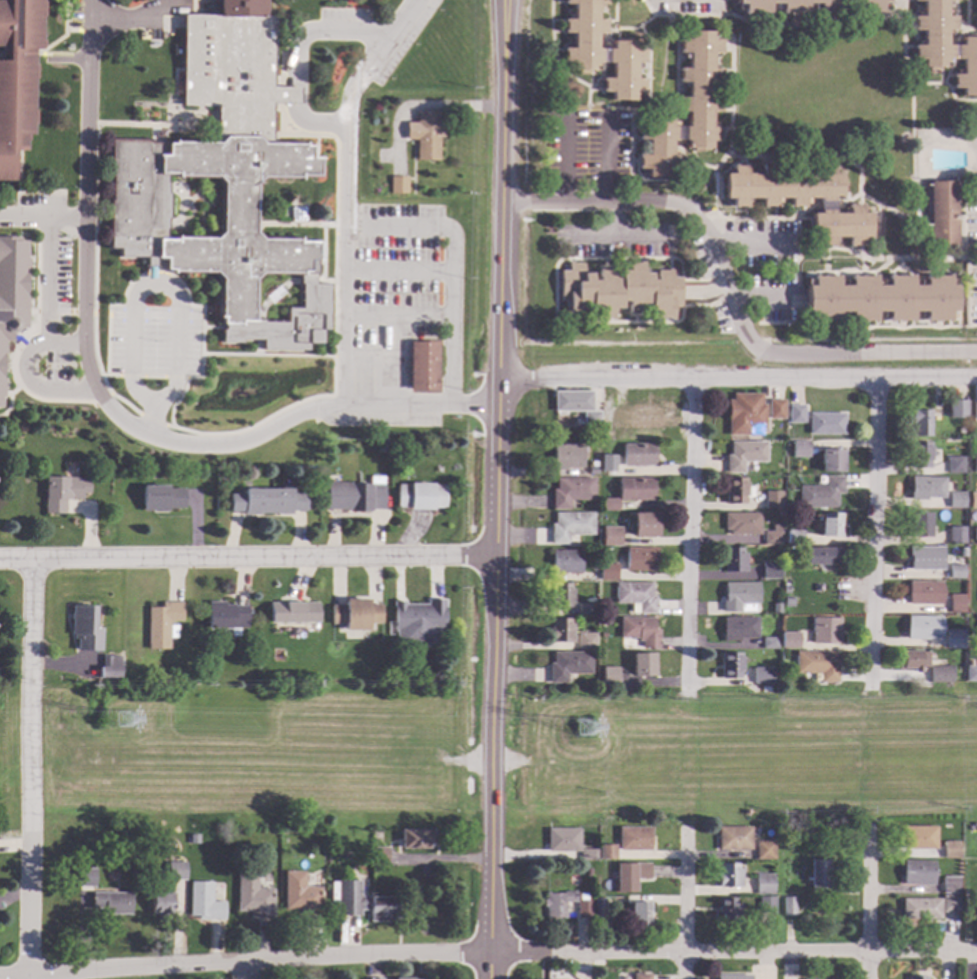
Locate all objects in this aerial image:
building: (240, 8)
building: (831, 8)
road: (149, 12)
road: (965, 15)
road: (63, 17)
road: (770, 23)
road: (961, 27)
road: (621, 28)
road: (958, 29)
road: (75, 30)
road: (315, 30)
road: (960, 31)
building: (945, 46)
building: (602, 51)
road: (40, 54)
road: (2, 57)
road: (66, 59)
road: (555, 59)
road: (676, 68)
road: (947, 71)
road: (911, 75)
road: (940, 75)
road: (949, 75)
building: (17, 77)
road: (172, 77)
road: (590, 79)
road: (731, 83)
road: (592, 84)
road: (279, 94)
road: (296, 96)
road: (421, 105)
road: (647, 107)
road: (619, 108)
building: (686, 109)
building: (235, 114)
road: (315, 123)
road: (170, 133)
building: (425, 135)
road: (315, 147)
road: (681, 153)
road: (693, 156)
road: (759, 156)
road: (565, 157)
road: (634, 157)
road: (607, 158)
road: (911, 168)
road: (670, 180)
building: (398, 185)
road: (19, 192)
road: (347, 194)
road: (211, 196)
road: (846, 196)
road: (850, 197)
building: (801, 199)
road: (181, 200)
road: (199, 200)
building: (943, 213)
road: (189, 216)
road: (43, 217)
road: (619, 218)
road: (294, 224)
road: (962, 228)
road: (879, 231)
road: (191, 232)
road: (621, 234)
road: (746, 239)
road: (797, 249)
road: (841, 249)
road: (92, 252)
road: (321, 252)
building: (210, 253)
road: (825, 255)
road: (972, 257)
road: (316, 263)
road: (670, 263)
road: (605, 264)
road: (452, 266)
road: (937, 266)
road: (900, 267)
road: (900, 267)
road: (937, 267)
road: (853, 270)
road: (825, 271)
road: (399, 273)
road: (323, 281)
road: (168, 284)
building: (10, 290)
building: (619, 291)
road: (555, 293)
road: (704, 293)
road: (730, 295)
road: (46, 296)
road: (270, 296)
road: (769, 298)
building: (882, 299)
road: (29, 312)
road: (63, 312)
road: (568, 315)
road: (153, 316)
road: (399, 316)
road: (576, 318)
road: (209, 327)
road: (935, 327)
road: (16, 339)
road: (22, 342)
road: (256, 347)
road: (265, 355)
road: (389, 359)
building: (423, 366)
road: (110, 376)
road: (152, 376)
road: (738, 381)
road: (32, 385)
road: (5, 394)
road: (8, 400)
road: (100, 400)
building: (577, 406)
road: (106, 407)
building: (958, 409)
building: (974, 409)
building: (776, 410)
building: (745, 415)
building: (795, 415)
building: (646, 419)
building: (620, 420)
building: (974, 420)
road: (154, 422)
building: (921, 423)
building: (826, 425)
road: (242, 430)
building: (961, 431)
building: (383, 445)
building: (406, 449)
building: (800, 450)
building: (638, 455)
building: (744, 456)
building: (920, 456)
building: (569, 457)
building: (831, 461)
building: (607, 463)
building: (975, 464)
building: (956, 466)
building: (593, 471)
building: (926, 488)
road: (498, 489)
building: (636, 489)
building: (572, 492)
building: (738, 492)
building: (64, 493)
building: (821, 494)
building: (421, 496)
building: (355, 497)
building: (162, 499)
building: (773, 500)
building: (956, 500)
building: (973, 501)
building: (268, 502)
building: (609, 504)
building: (743, 524)
building: (646, 525)
building: (832, 525)
building: (920, 526)
building: (571, 527)
road: (874, 531)
road: (691, 534)
building: (956, 535)
building: (975, 535)
building: (612, 537)
building: (773, 538)
building: (795, 538)
building: (823, 557)
road: (248, 558)
building: (925, 558)
building: (642, 560)
building: (736, 560)
building: (567, 562)
building: (595, 568)
building: (956, 570)
building: (772, 572)
building: (609, 573)
building: (787, 580)
building: (788, 590)
building: (925, 593)
building: (562, 596)
building: (637, 596)
building: (741, 596)
building: (956, 604)
building: (587, 609)
building: (777, 609)
building: (294, 613)
building: (356, 615)
building: (227, 616)
building: (603, 620)
building: (419, 623)
building: (164, 625)
building: (925, 628)
building: (87, 629)
building: (742, 629)
building: (561, 631)
building: (642, 631)
building: (827, 631)
building: (955, 640)
building: (791, 641)
building: (587, 642)
building: (772, 644)
building: (969, 658)
building: (914, 660)
building: (645, 665)
building: (820, 665)
building: (570, 666)
building: (733, 666)
building: (112, 667)
building: (942, 674)
building: (972, 674)
building: (765, 676)
building: (611, 677)
building: (271, 679)
power tower: (125, 723)
power tower: (587, 730)
road: (488, 760)
road: (30, 769)
building: (975, 828)
building: (774, 834)
building: (920, 838)
building: (417, 839)
building: (636, 839)
building: (736, 839)
building: (193, 840)
building: (564, 840)
building: (767, 849)
building: (952, 850)
building: (608, 853)
building: (589, 855)
building: (381, 856)
building: (176, 871)
building: (588, 872)
building: (919, 873)
building: (821, 875)
building: (631, 876)
building: (731, 876)
building: (85, 878)
building: (766, 885)
building: (951, 885)
building: (302, 895)
building: (254, 897)
building: (111, 903)
building: (204, 903)
building: (363, 903)
building: (559, 904)
road: (867, 904)
building: (951, 904)
building: (161, 905)
building: (768, 905)
road: (685, 906)
building: (790, 907)
building: (601, 909)
building: (922, 909)
building: (585, 910)
building: (971, 910)
building: (730, 911)
building: (641, 915)
road: (488, 953)
road: (249, 970)
building: (642, 977)
building: (734, 977)
building: (375, 978)
building: (409, 978)
building: (813, 978)
building: (832, 978)
building: (918, 978)

